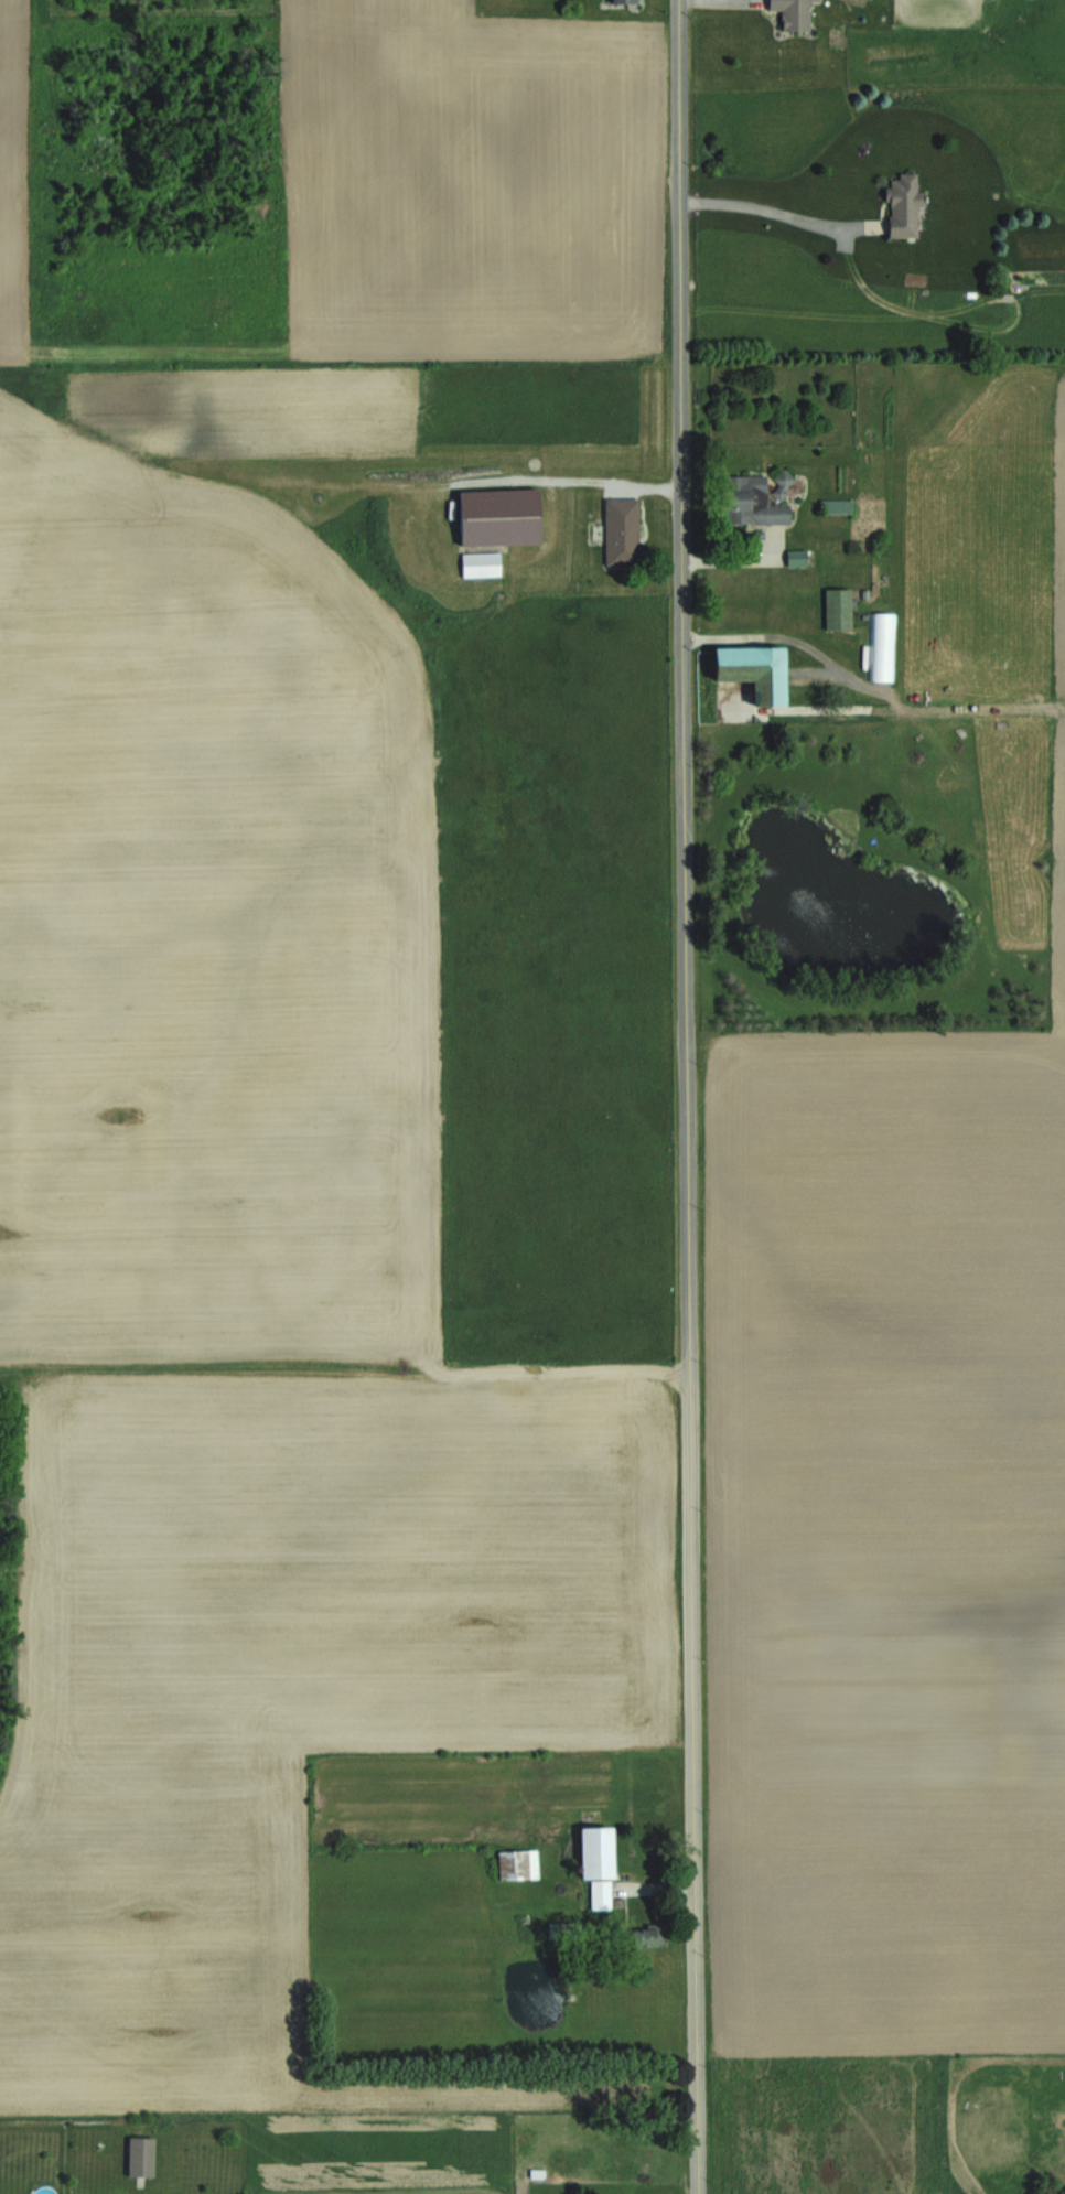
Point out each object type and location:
building: (623, 2)
building: (792, 13)
building: (902, 206)
road: (779, 212)
building: (782, 483)
building: (749, 502)
building: (837, 505)
building: (498, 516)
building: (621, 530)
building: (796, 557)
building: (481, 564)
building: (838, 607)
building: (753, 670)
road: (686, 1097)
building: (596, 1851)
building: (601, 1895)
building: (648, 1935)
building: (141, 2155)

